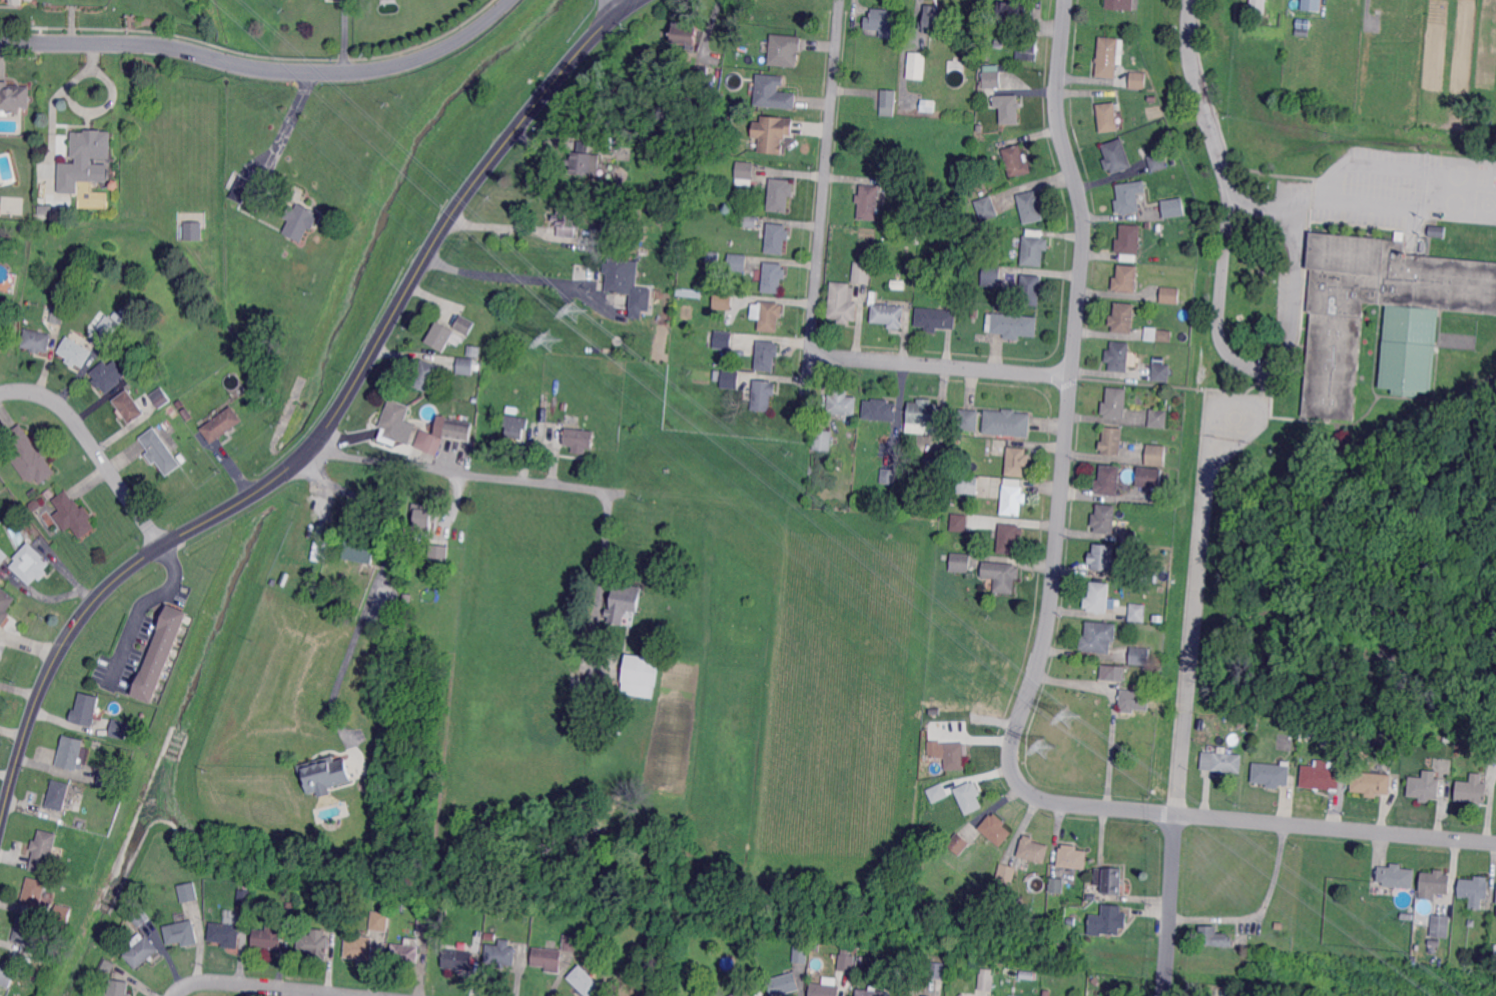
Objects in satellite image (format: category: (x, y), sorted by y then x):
building: (15, 1)
road: (621, 3)
building: (1120, 4)
building: (1310, 4)
building: (1323, 4)
building: (1256, 6)
building: (1267, 7)
building: (1011, 13)
building: (1274, 18)
building: (935, 19)
building: (883, 21)
building: (988, 23)
road: (708, 29)
building: (1302, 32)
building: (686, 34)
building: (999, 44)
building: (1029, 49)
building: (782, 50)
road: (903, 52)
building: (1109, 56)
road: (264, 66)
building: (916, 67)
road: (833, 70)
building: (701, 73)
building: (991, 78)
building: (1138, 79)
building: (771, 93)
building: (14, 98)
road: (1201, 99)
building: (888, 102)
building: (722, 103)
building: (928, 104)
building: (1009, 108)
road: (291, 114)
building: (1108, 117)
building: (770, 133)
building: (608, 145)
building: (1116, 156)
building: (84, 158)
building: (584, 161)
building: (1017, 161)
building: (1158, 161)
building: (744, 174)
road: (1422, 178)
building: (115, 186)
building: (248, 191)
building: (982, 193)
building: (779, 195)
building: (1129, 197)
building: (869, 202)
building: (1032, 206)
building: (986, 208)
building: (1173, 208)
building: (920, 209)
building: (46, 211)
building: (300, 221)
building: (567, 221)
building: (598, 221)
building: (749, 221)
building: (176, 222)
building: (1148, 226)
building: (880, 231)
building: (1437, 231)
building: (193, 232)
building: (776, 238)
building: (1129, 239)
road: (819, 248)
building: (1035, 249)
building: (712, 257)
building: (737, 262)
building: (862, 272)
road: (503, 274)
building: (991, 276)
building: (772, 278)
building: (1126, 279)
building: (630, 286)
building: (952, 289)
building: (1031, 289)
building: (690, 293)
building: (1170, 295)
building: (872, 299)
building: (723, 301)
building: (840, 303)
power tower: (579, 308)
building: (124, 313)
building: (57, 315)
building: (766, 315)
building: (889, 315)
building: (119, 318)
building: (936, 318)
building: (1122, 318)
building: (466, 325)
building: (1012, 325)
building: (107, 327)
building: (1157, 335)
building: (441, 336)
building: (721, 338)
power tower: (551, 339)
building: (37, 341)
building: (1408, 349)
road: (1285, 350)
building: (474, 351)
building: (75, 353)
building: (766, 356)
building: (1118, 357)
building: (537, 365)
road: (941, 365)
building: (464, 367)
building: (1161, 372)
building: (425, 376)
building: (716, 376)
building: (110, 377)
building: (730, 380)
building: (763, 395)
building: (161, 398)
building: (1116, 402)
building: (180, 403)
building: (842, 403)
building: (565, 405)
building: (128, 409)
building: (616, 409)
building: (880, 410)
building: (173, 412)
building: (923, 416)
building: (1159, 417)
building: (969, 418)
building: (629, 421)
building: (394, 422)
building: (1007, 422)
building: (852, 423)
building: (222, 425)
building: (516, 425)
road: (324, 427)
building: (459, 428)
building: (580, 439)
building: (824, 439)
building: (954, 440)
building: (966, 442)
building: (1111, 442)
building: (429, 443)
road: (93, 447)
road: (1232, 447)
building: (161, 452)
building: (1155, 454)
building: (29, 457)
building: (1017, 461)
building: (934, 468)
road: (460, 470)
building: (890, 476)
building: (1150, 477)
building: (1108, 481)
building: (967, 485)
building: (34, 494)
building: (51, 495)
building: (1013, 498)
building: (34, 505)
building: (905, 512)
building: (72, 515)
road: (398, 518)
building: (1105, 518)
building: (423, 522)
building: (959, 522)
building: (1129, 535)
building: (1010, 538)
building: (320, 541)
building: (360, 549)
building: (439, 551)
building: (333, 553)
building: (3, 557)
building: (944, 557)
building: (1102, 558)
building: (961, 562)
building: (30, 564)
building: (1142, 572)
building: (1002, 574)
building: (1098, 597)
building: (388, 599)
building: (407, 601)
building: (623, 602)
building: (450, 603)
road: (137, 605)
building: (6, 606)
building: (1138, 612)
building: (389, 622)
road: (1046, 634)
building: (1098, 637)
road: (1191, 645)
building: (161, 653)
building: (1134, 660)
building: (1112, 673)
building: (640, 674)
road: (332, 691)
building: (1134, 700)
road: (1112, 709)
building: (86, 710)
power tower: (1069, 716)
building: (1239, 724)
building: (1287, 726)
building: (118, 728)
building: (1315, 732)
building: (1376, 736)
building: (1446, 740)
building: (1340, 744)
power tower: (1046, 748)
building: (949, 753)
building: (1491, 754)
building: (71, 755)
building: (924, 763)
building: (1221, 763)
building: (1271, 775)
building: (325, 776)
building: (1321, 776)
building: (108, 780)
building: (1371, 783)
building: (1424, 787)
building: (937, 793)
building: (1472, 793)
building: (59, 797)
building: (968, 797)
building: (994, 830)
building: (957, 842)
building: (1033, 849)
building: (45, 854)
building: (1072, 857)
building: (1006, 873)
building: (1396, 876)
building: (1109, 879)
building: (1435, 882)
building: (1057, 884)
building: (1474, 890)
building: (188, 893)
building: (36, 894)
building: (246, 897)
building: (1092, 897)
building: (1495, 897)
road: (1170, 905)
building: (400, 906)
building: (1411, 910)
road: (1260, 912)
building: (64, 914)
building: (1406, 916)
building: (140, 919)
building: (381, 921)
building: (1106, 921)
building: (1471, 923)
building: (49, 925)
building: (1440, 926)
building: (425, 927)
building: (29, 933)
building: (182, 934)
building: (225, 935)
building: (1214, 936)
building: (599, 937)
building: (269, 938)
building: (570, 942)
building: (850, 942)
building: (1435, 944)
building: (315, 945)
building: (361, 947)
building: (142, 953)
building: (501, 953)
building: (406, 955)
building: (548, 958)
building: (805, 959)
building: (834, 959)
building: (1481, 959)
building: (458, 960)
building: (862, 960)
building: (846, 963)
building: (109, 965)
building: (5, 971)
building: (936, 971)
building: (1028, 974)
building: (757, 976)
building: (1232, 979)
building: (588, 980)
building: (959, 980)
building: (986, 980)
building: (906, 981)
building: (783, 985)
building: (1065, 985)
road: (260, 987)
building: (119, 988)
building: (825, 988)
building: (745, 989)
building: (962, 992)
building: (701, 993)
building: (871, 993)
building: (907, 995)
building: (926, 995)

